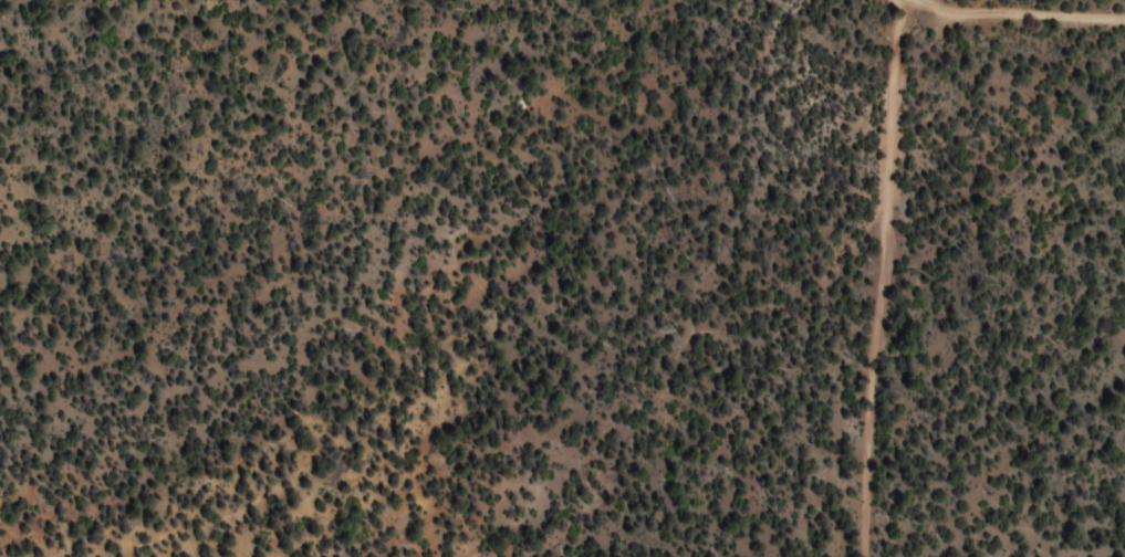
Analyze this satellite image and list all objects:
road: (1009, 13)
road: (877, 278)

